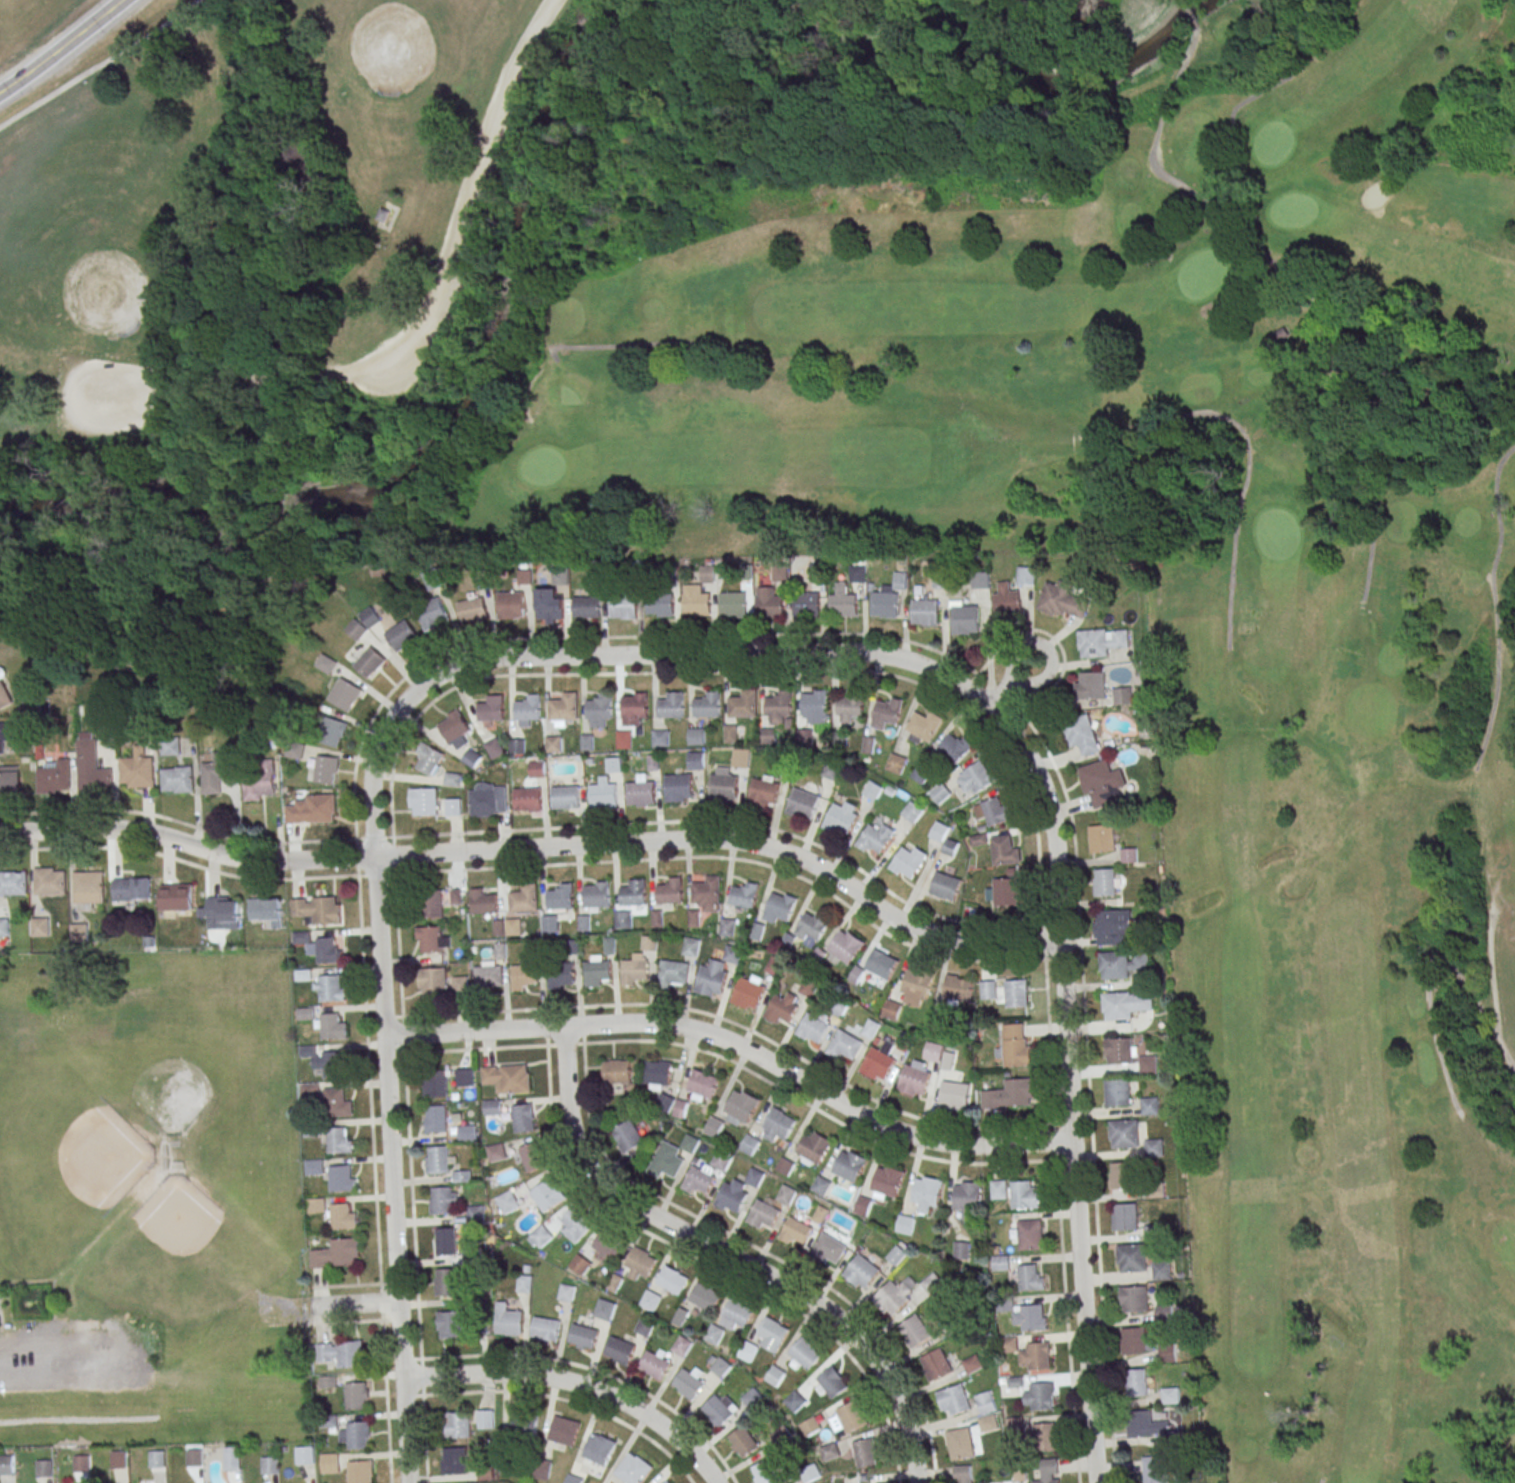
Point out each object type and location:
park: (384, 28)
park: (52, 38)
road: (61, 47)
road: (98, 64)
river: (1078, 82)
park: (806, 103)
parking lot: (494, 149)
building: (384, 215)
road: (394, 217)
park: (76, 253)
park: (286, 256)
road: (431, 318)
road: (413, 383)
parking lot: (116, 400)
river: (433, 445)
building: (707, 573)
building: (857, 574)
building: (561, 576)
building: (1025, 576)
park: (141, 578)
building: (435, 578)
building: (979, 580)
building: (695, 599)
building: (887, 599)
building: (1006, 599)
building: (1061, 600)
building: (769, 602)
building: (842, 602)
building: (549, 604)
building: (732, 604)
building: (805, 604)
building: (511, 605)
building: (623, 605)
building: (660, 605)
building: (586, 606)
park: (1187, 609)
building: (473, 610)
building: (924, 611)
building: (434, 616)
building: (372, 617)
building: (964, 617)
building: (358, 629)
building: (402, 634)
road: (529, 639)
building: (1101, 641)
road: (614, 656)
building: (370, 661)
building: (1089, 685)
building: (4, 689)
building: (345, 694)
building: (1122, 695)
building: (779, 703)
building: (708, 704)
building: (743, 704)
building: (671, 705)
building: (564, 706)
building: (599, 706)
building: (528, 707)
building: (813, 707)
building: (849, 707)
building: (491, 708)
building: (634, 708)
building: (886, 713)
building: (454, 727)
building: (922, 727)
building: (332, 731)
building: (730, 733)
building: (1081, 734)
building: (696, 736)
building: (6, 737)
building: (624, 739)
building: (586, 742)
building: (553, 744)
building: (171, 746)
building: (517, 746)
building: (955, 746)
building: (494, 747)
building: (294, 750)
building: (471, 758)
building: (740, 758)
building: (428, 759)
building: (695, 760)
building: (896, 763)
building: (613, 764)
building: (325, 769)
building: (537, 769)
building: (832, 770)
building: (92, 771)
building: (137, 772)
building: (920, 773)
building: (216, 774)
building: (976, 777)
building: (451, 778)
building: (54, 780)
building: (178, 782)
building: (259, 784)
building: (1102, 784)
building: (723, 785)
building: (9, 786)
building: (677, 787)
building: (872, 790)
building: (763, 791)
building: (641, 792)
building: (939, 793)
building: (602, 794)
building: (565, 796)
building: (488, 800)
building: (528, 800)
building: (423, 801)
building: (803, 804)
building: (452, 806)
building: (994, 810)
building: (911, 812)
building: (311, 813)
building: (841, 817)
road: (178, 822)
road: (745, 824)
building: (939, 831)
road: (391, 837)
building: (875, 837)
building: (1102, 838)
road: (540, 848)
building: (1003, 849)
road: (179, 860)
building: (908, 861)
building: (1104, 882)
building: (49, 884)
building: (13, 886)
building: (945, 886)
building: (89, 890)
building: (670, 891)
building: (1004, 891)
building: (131, 892)
building: (634, 892)
building: (455, 893)
building: (706, 894)
building: (744, 894)
building: (597, 895)
building: (560, 896)
building: (177, 897)
building: (524, 899)
building: (483, 901)
building: (432, 903)
building: (779, 907)
building: (265, 909)
building: (222, 913)
building: (316, 913)
building: (625, 922)
building: (549, 923)
building: (507, 926)
building: (811, 926)
building: (727, 927)
building: (1113, 927)
building: (4, 929)
building: (39, 929)
building: (79, 935)
building: (301, 937)
building: (431, 939)
building: (690, 946)
building: (844, 947)
road: (934, 953)
building: (327, 954)
building: (881, 964)
building: (1122, 964)
building: (596, 970)
building: (634, 971)
building: (716, 972)
building: (673, 974)
building: (560, 975)
building: (487, 976)
building: (524, 977)
building: (432, 982)
building: (916, 986)
building: (957, 988)
building: (988, 990)
building: (748, 991)
building: (330, 993)
building: (1017, 993)
building: (1125, 1004)
road: (669, 1006)
building: (782, 1008)
building: (892, 1010)
building: (813, 1028)
building: (871, 1028)
building: (332, 1030)
building: (1015, 1045)
road: (738, 1046)
building: (845, 1046)
building: (1120, 1051)
building: (933, 1052)
building: (948, 1060)
building: (877, 1063)
building: (1148, 1064)
building: (333, 1068)
building: (617, 1071)
building: (656, 1075)
building: (464, 1077)
building: (507, 1078)
building: (915, 1078)
building: (435, 1083)
building: (702, 1086)
road: (1068, 1086)
building: (1118, 1092)
building: (954, 1093)
building: (1010, 1094)
building: (665, 1102)
building: (336, 1106)
building: (1150, 1106)
building: (492, 1107)
building: (740, 1107)
building: (435, 1118)
building: (523, 1118)
building: (777, 1125)
building: (714, 1127)
building: (466, 1132)
building: (1124, 1133)
building: (628, 1136)
building: (689, 1143)
building: (337, 1145)
building: (749, 1145)
building: (813, 1148)
building: (1154, 1148)
road: (1092, 1149)
building: (496, 1152)
building: (532, 1156)
building: (436, 1159)
building: (666, 1161)
building: (720, 1162)
building: (849, 1165)
building: (313, 1166)
building: (785, 1166)
road: (391, 1170)
building: (1122, 1175)
building: (461, 1176)
building: (754, 1177)
road: (373, 1179)
building: (700, 1180)
building: (887, 1182)
building: (339, 1183)
building: (821, 1185)
building: (999, 1189)
building: (548, 1194)
building: (786, 1194)
building: (926, 1194)
building: (1025, 1194)
building: (732, 1196)
building: (967, 1197)
building: (443, 1200)
building: (507, 1201)
park: (151, 1202)
building: (315, 1204)
building: (863, 1205)
building: (475, 1213)
building: (764, 1213)
building: (343, 1217)
building: (1125, 1217)
building: (575, 1224)
building: (905, 1224)
building: (795, 1232)
building: (1030, 1234)
building: (540, 1237)
building: (445, 1241)
building: (605, 1246)
building: (828, 1249)
road: (413, 1250)
building: (961, 1250)
building: (337, 1254)
road: (728, 1255)
building: (896, 1255)
building: (1131, 1257)
building: (1001, 1262)
building: (639, 1263)
building: (580, 1264)
building: (1162, 1271)
building: (861, 1272)
building: (1031, 1277)
building: (672, 1279)
building: (445, 1281)
building: (524, 1283)
building: (566, 1292)
building: (895, 1295)
building: (705, 1296)
building: (1135, 1299)
building: (650, 1300)
road: (354, 1304)
building: (605, 1309)
building: (737, 1313)
building: (1164, 1313)
building: (680, 1317)
building: (1030, 1317)
building: (508, 1320)
building: (451, 1324)
building: (645, 1325)
building: (546, 1328)
building: (915, 1330)
building: (714, 1334)
building: (773, 1334)
building: (584, 1336)
building: (1137, 1341)
building: (682, 1346)
building: (619, 1349)
building: (747, 1351)
building: (342, 1353)
building: (804, 1353)
building: (1168, 1354)
building: (1036, 1356)
building: (655, 1363)
building: (936, 1364)
building: (719, 1366)
building: (775, 1375)
building: (327, 1381)
building: (689, 1382)
building: (830, 1383)
building: (1137, 1383)
road: (575, 1384)
building: (357, 1395)
building: (1170, 1395)
building: (1039, 1396)
building: (753, 1399)
building: (954, 1400)
building: (720, 1408)
building: (485, 1418)
building: (848, 1418)
building: (987, 1418)
building: (458, 1424)
building: (524, 1424)
building: (1014, 1424)
building: (1144, 1424)
building: (810, 1426)
building: (564, 1430)
building: (356, 1435)
building: (782, 1435)
building: (1045, 1436)
building: (744, 1441)
building: (599, 1448)
building: (829, 1451)
building: (865, 1452)
building: (304, 1456)
building: (194, 1457)
building: (156, 1458)
building: (232, 1458)
building: (117, 1459)
building: (457, 1459)
building: (80, 1462)
building: (330, 1462)
building: (6, 1465)
building: (269, 1465)
building: (43, 1468)
building: (543, 1469)
building: (634, 1469)
building: (1154, 1469)
building: (360, 1471)
building: (1049, 1471)
building: (764, 1473)
building: (963, 1474)
building: (574, 1478)
building: (667, 1482)

